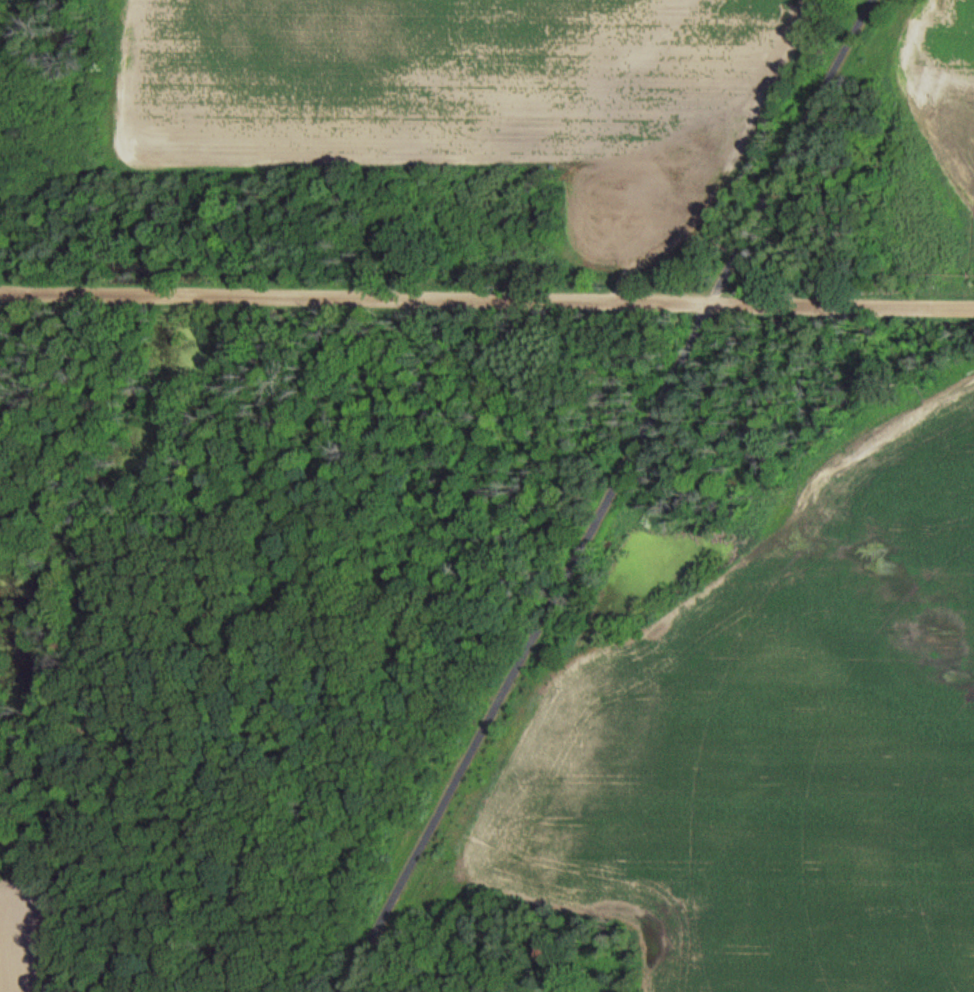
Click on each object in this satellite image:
road: (783, 152)
road: (487, 302)
road: (520, 648)

